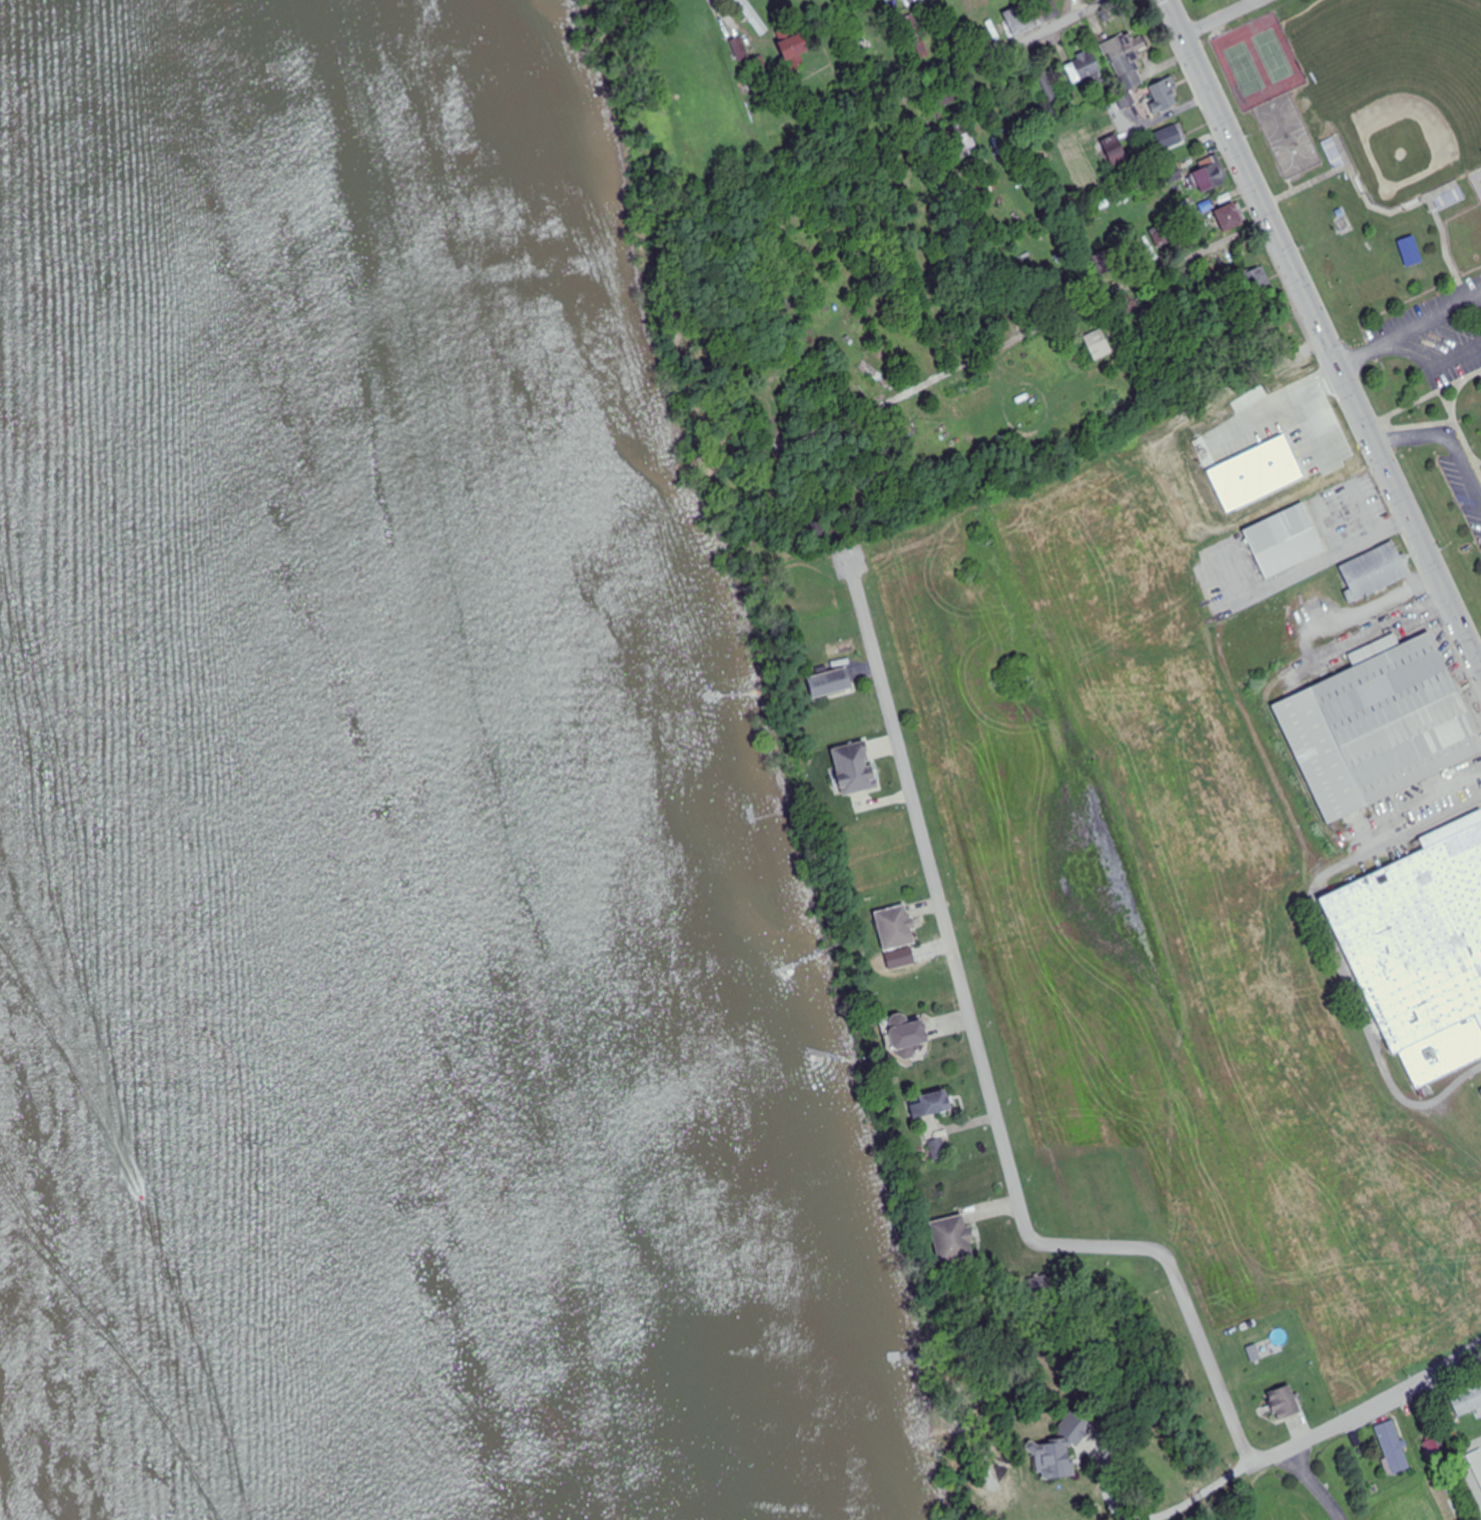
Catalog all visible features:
building: (1032, 16)
road: (1224, 18)
road: (1039, 36)
building: (793, 47)
building: (740, 49)
building: (1127, 60)
park: (1260, 60)
building: (759, 67)
building: (1085, 70)
park: (1397, 88)
building: (1049, 89)
building: (1164, 95)
park: (1279, 117)
building: (1171, 137)
building: (965, 144)
building: (1116, 151)
building: (1334, 152)
park: (1296, 153)
building: (1210, 175)
road: (1255, 182)
building: (1450, 197)
building: (1230, 219)
park: (1480, 277)
building: (1259, 283)
park: (1428, 313)
road: (1411, 329)
road: (1020, 341)
building: (1098, 344)
road: (1437, 362)
traffic signals: (1343, 364)
road: (1446, 432)
road: (1411, 515)
building: (1284, 540)
building: (1374, 571)
road: (1480, 663)
building: (830, 682)
building: (1380, 723)
river: (267, 752)
building: (855, 766)
building: (895, 927)
building: (1420, 948)
building: (905, 1034)
road: (985, 1078)
building: (931, 1103)
building: (939, 1148)
building: (953, 1238)
building: (1468, 1399)
building: (1284, 1403)
road: (1368, 1403)
building: (1393, 1448)
building: (1435, 1450)
building: (1476, 1463)
road: (1315, 1485)

